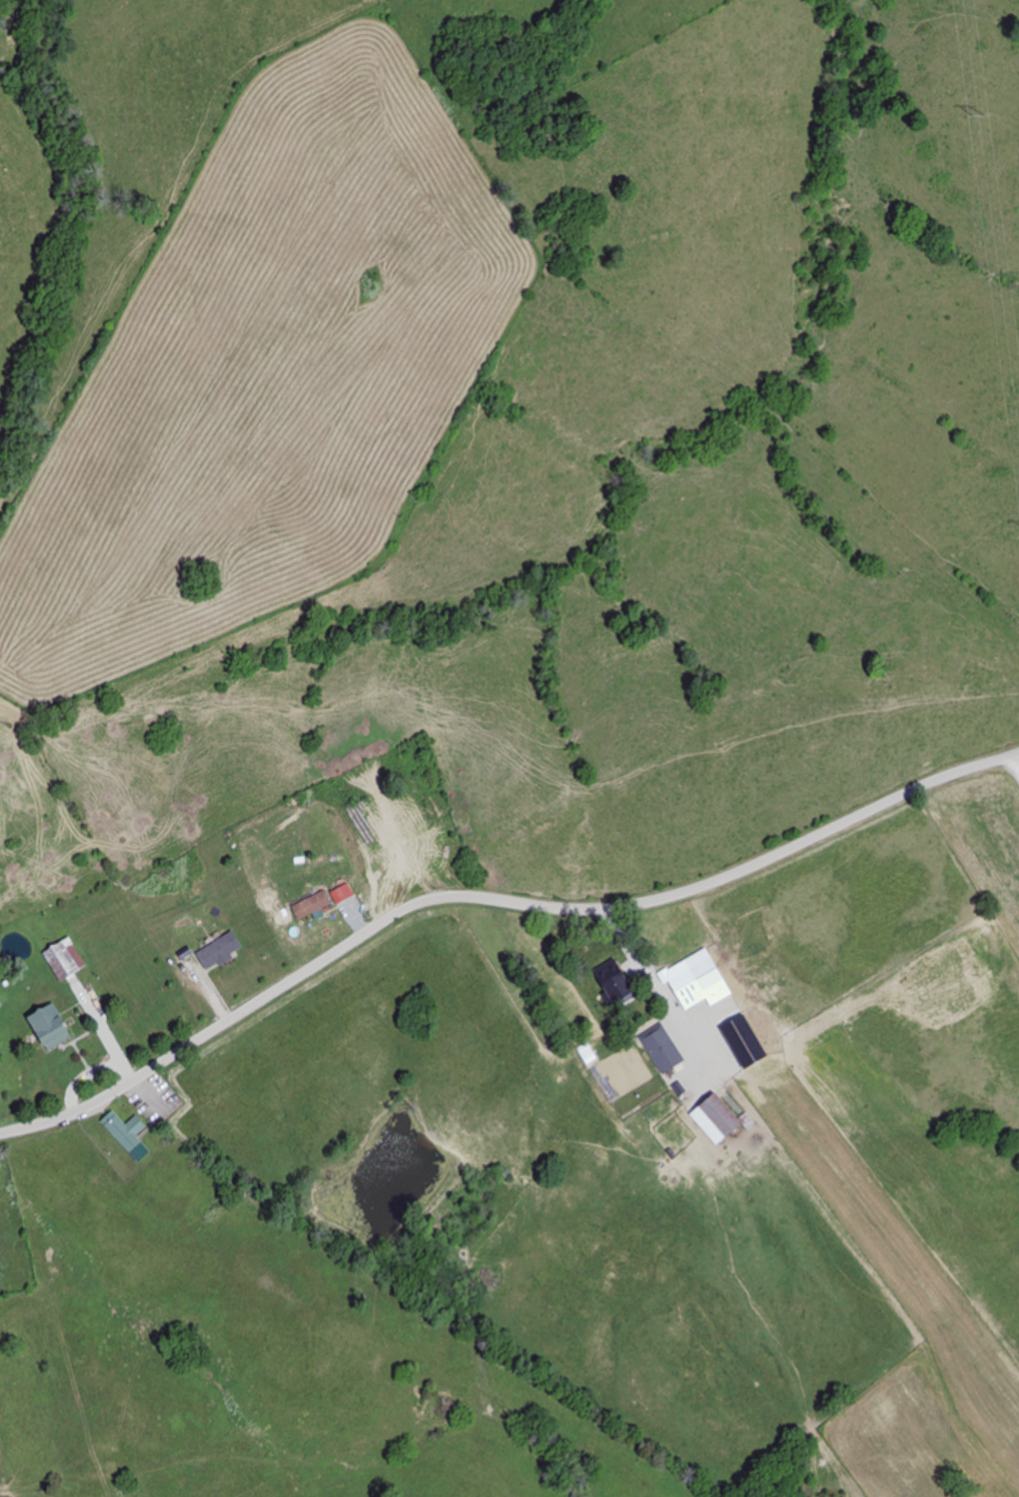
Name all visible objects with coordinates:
road: (494, 899)
building: (314, 905)
building: (222, 952)
building: (67, 960)
building: (612, 975)
building: (696, 977)
building: (54, 1026)
building: (664, 1049)
building: (720, 1119)
building: (128, 1130)
road: (758, 1233)

